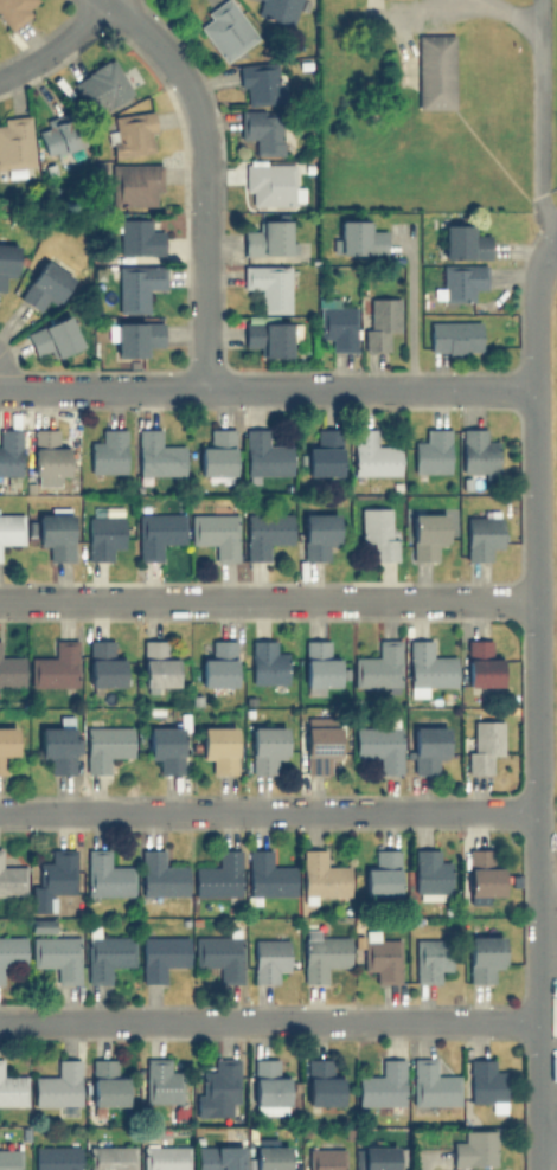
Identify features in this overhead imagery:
building: (372, 2)
road: (446, 2)
building: (276, 9)
building: (15, 11)
building: (225, 28)
road: (68, 44)
building: (434, 71)
building: (258, 83)
building: (101, 85)
road: (539, 98)
building: (262, 129)
building: (130, 133)
building: (60, 136)
building: (15, 141)
road: (203, 182)
building: (271, 182)
building: (135, 185)
building: (139, 237)
building: (268, 237)
building: (357, 237)
road: (552, 238)
building: (462, 240)
building: (6, 261)
building: (460, 279)
building: (44, 284)
building: (268, 284)
building: (135, 285)
road: (411, 316)
building: (379, 321)
building: (338, 326)
building: (269, 335)
building: (454, 335)
building: (53, 336)
building: (133, 336)
road: (268, 390)
building: (9, 451)
building: (108, 451)
building: (431, 451)
building: (476, 451)
building: (217, 452)
building: (325, 452)
building: (158, 454)
building: (373, 454)
building: (265, 455)
building: (47, 457)
building: (11, 528)
building: (55, 531)
building: (378, 531)
building: (158, 532)
building: (216, 532)
building: (264, 533)
building: (318, 533)
building: (425, 534)
building: (481, 534)
building: (102, 535)
road: (537, 565)
road: (268, 599)
building: (265, 662)
building: (480, 662)
building: (103, 663)
building: (218, 663)
building: (55, 664)
building: (319, 664)
building: (378, 664)
building: (156, 666)
building: (427, 667)
building: (11, 669)
building: (6, 744)
building: (482, 744)
building: (105, 745)
building: (379, 745)
building: (320, 746)
building: (427, 746)
building: (58, 747)
building: (165, 747)
building: (219, 747)
building: (267, 747)
road: (270, 809)
building: (430, 872)
building: (482, 872)
building: (107, 874)
building: (217, 874)
building: (382, 874)
building: (161, 875)
building: (268, 875)
building: (322, 875)
building: (53, 876)
building: (11, 877)
building: (41, 925)
building: (11, 952)
building: (57, 954)
building: (107, 954)
building: (161, 954)
building: (218, 954)
building: (324, 954)
building: (380, 956)
building: (484, 957)
building: (268, 958)
building: (429, 958)
road: (271, 1022)
road: (544, 1029)
building: (160, 1080)
building: (105, 1081)
building: (485, 1081)
building: (321, 1082)
building: (431, 1082)
building: (12, 1086)
building: (58, 1086)
building: (382, 1086)
building: (269, 1087)
building: (218, 1088)
road: (550, 1139)
building: (474, 1151)
building: (57, 1157)
building: (111, 1157)
building: (166, 1157)
building: (218, 1157)
building: (270, 1157)
building: (379, 1157)
building: (9, 1158)
building: (325, 1158)

